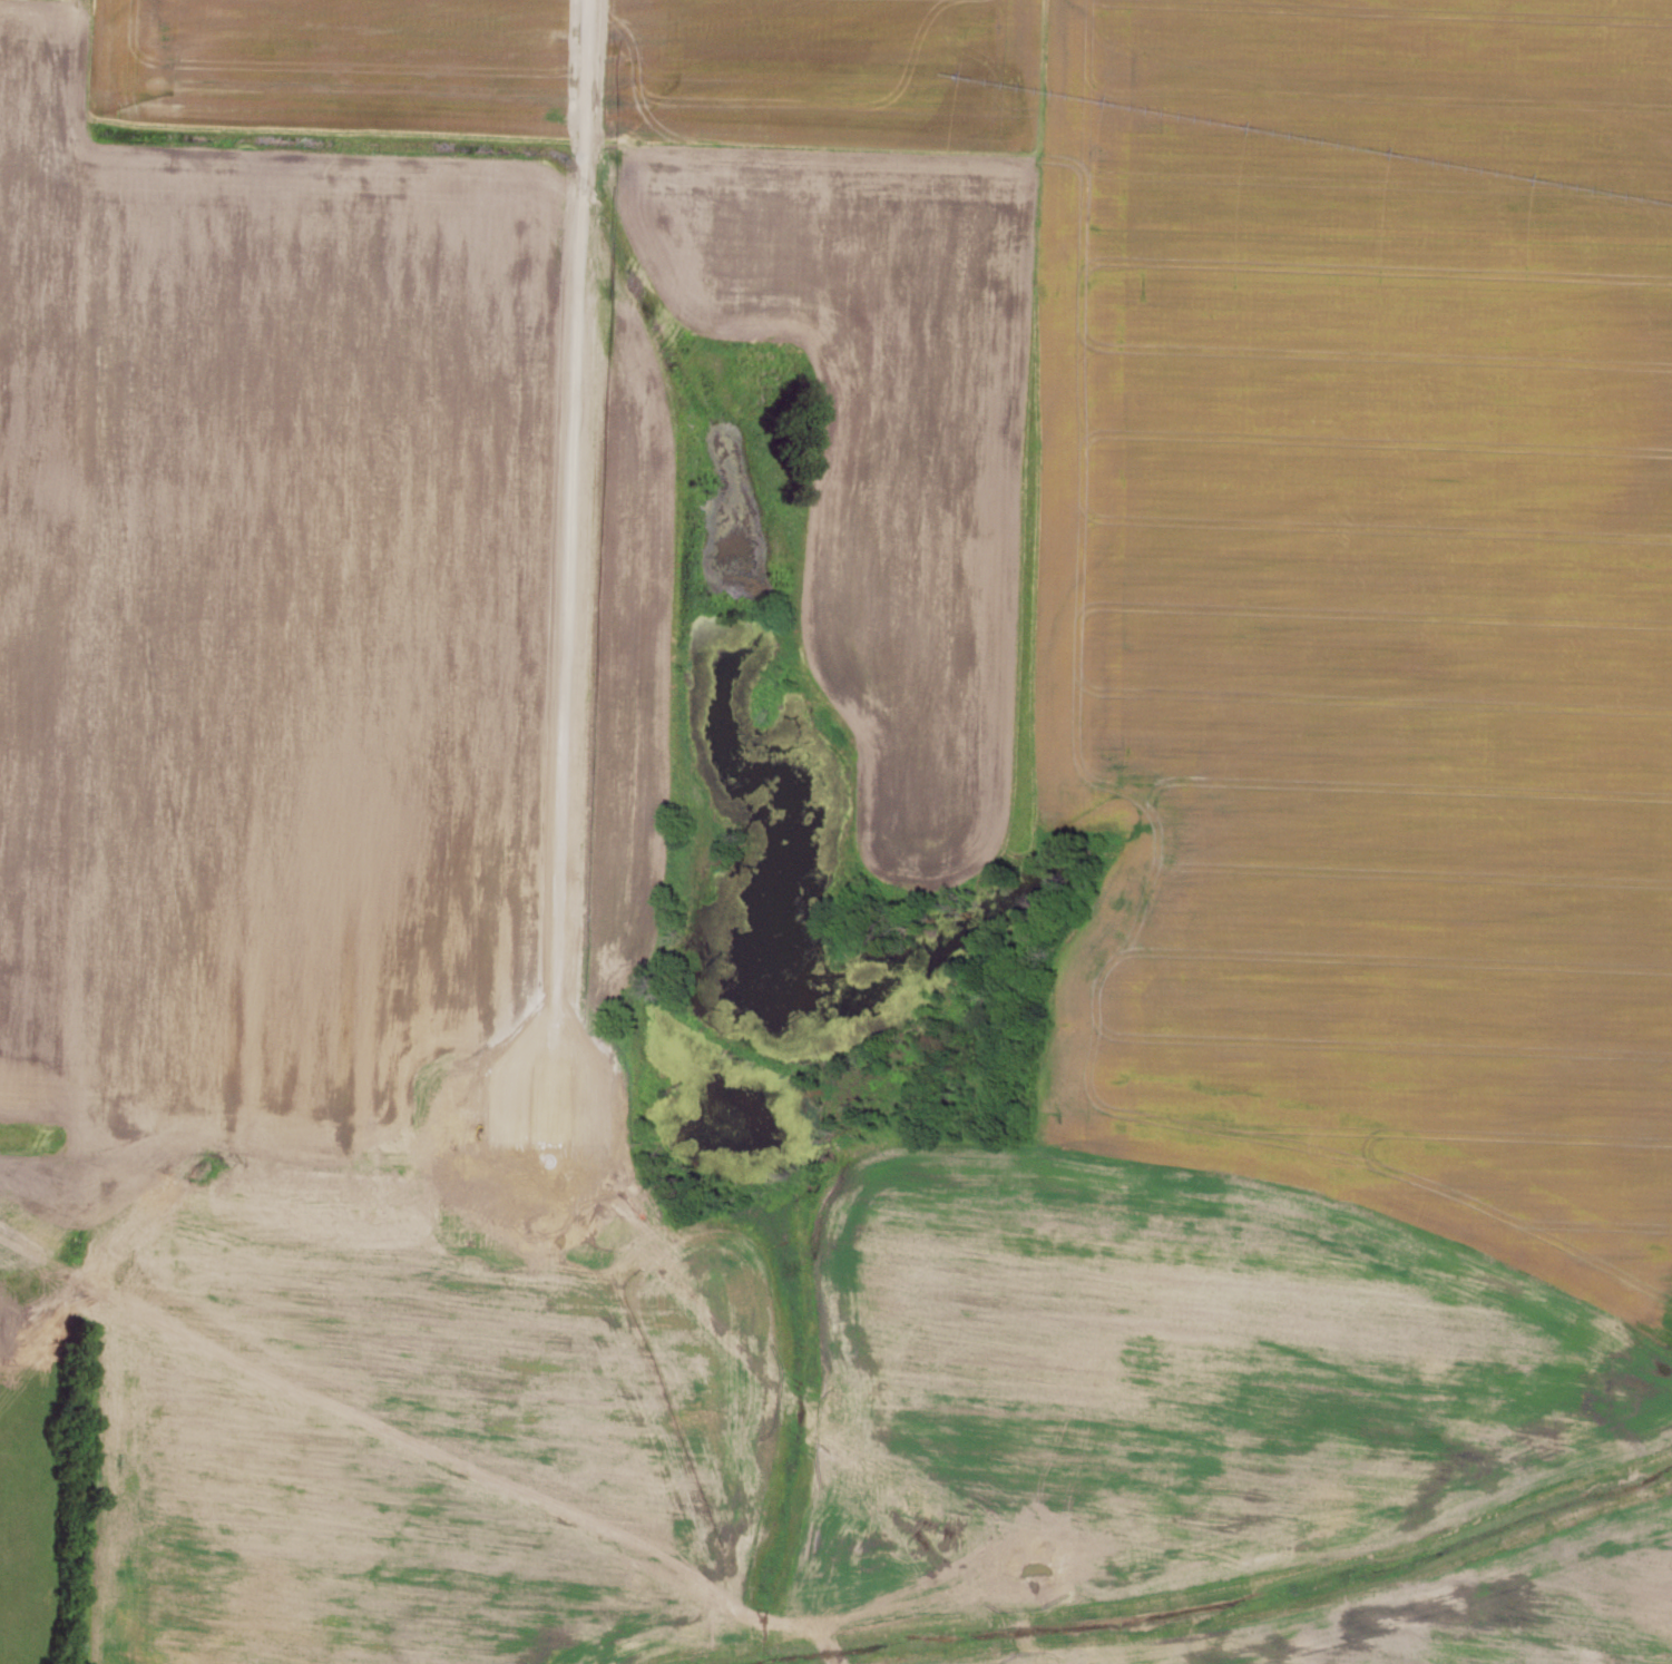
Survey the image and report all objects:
wind turbine: (549, 1174)

